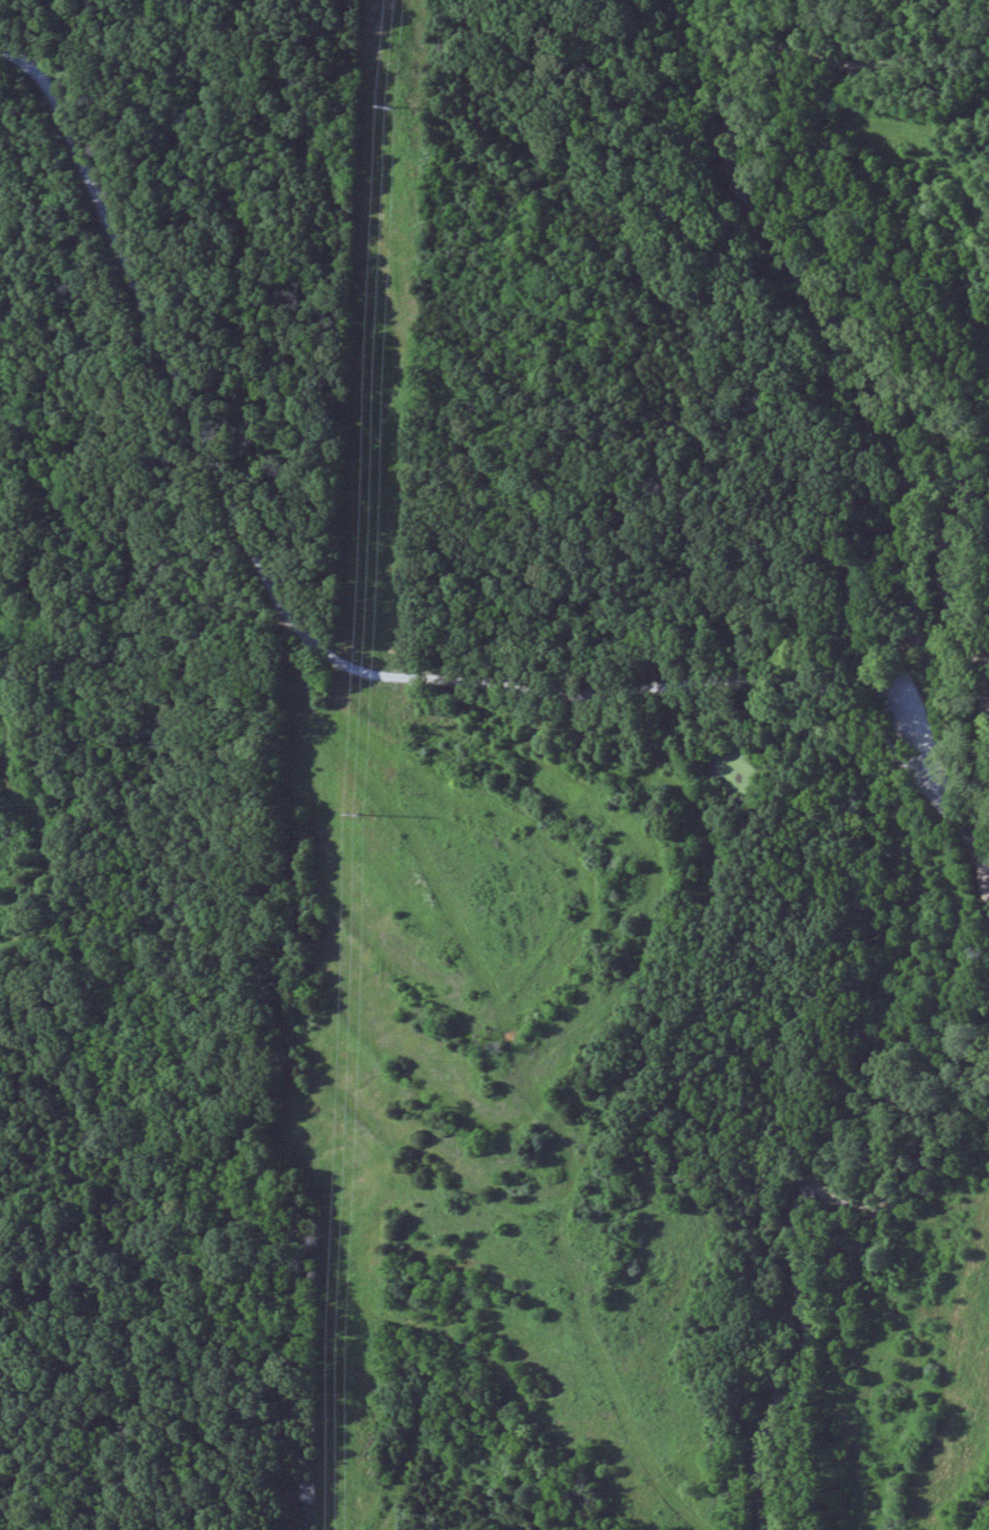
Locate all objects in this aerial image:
power tower: (389, 105)
road: (348, 664)
road: (919, 735)
parking lot: (911, 752)
power tower: (357, 813)

